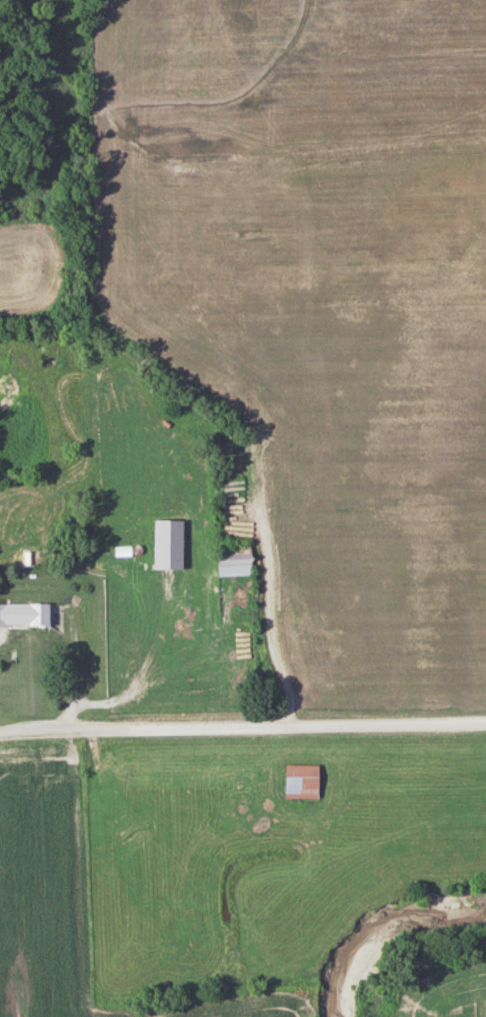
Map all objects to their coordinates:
building: (238, 561)
building: (27, 616)
road: (242, 726)
building: (305, 781)

